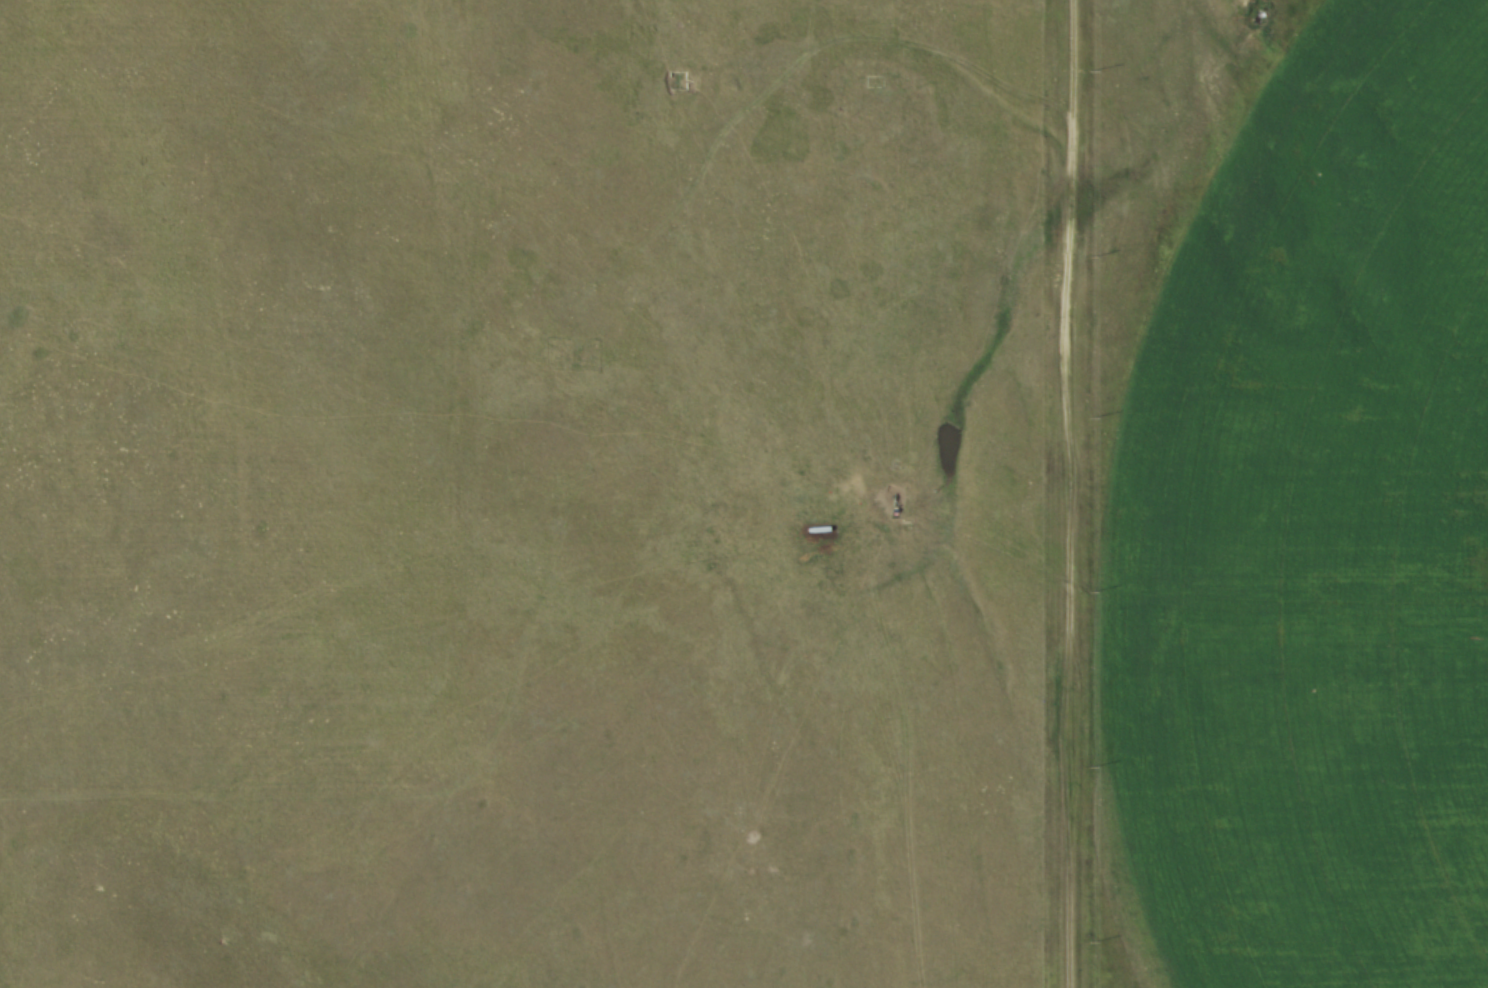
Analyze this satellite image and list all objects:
road: (1072, 494)

